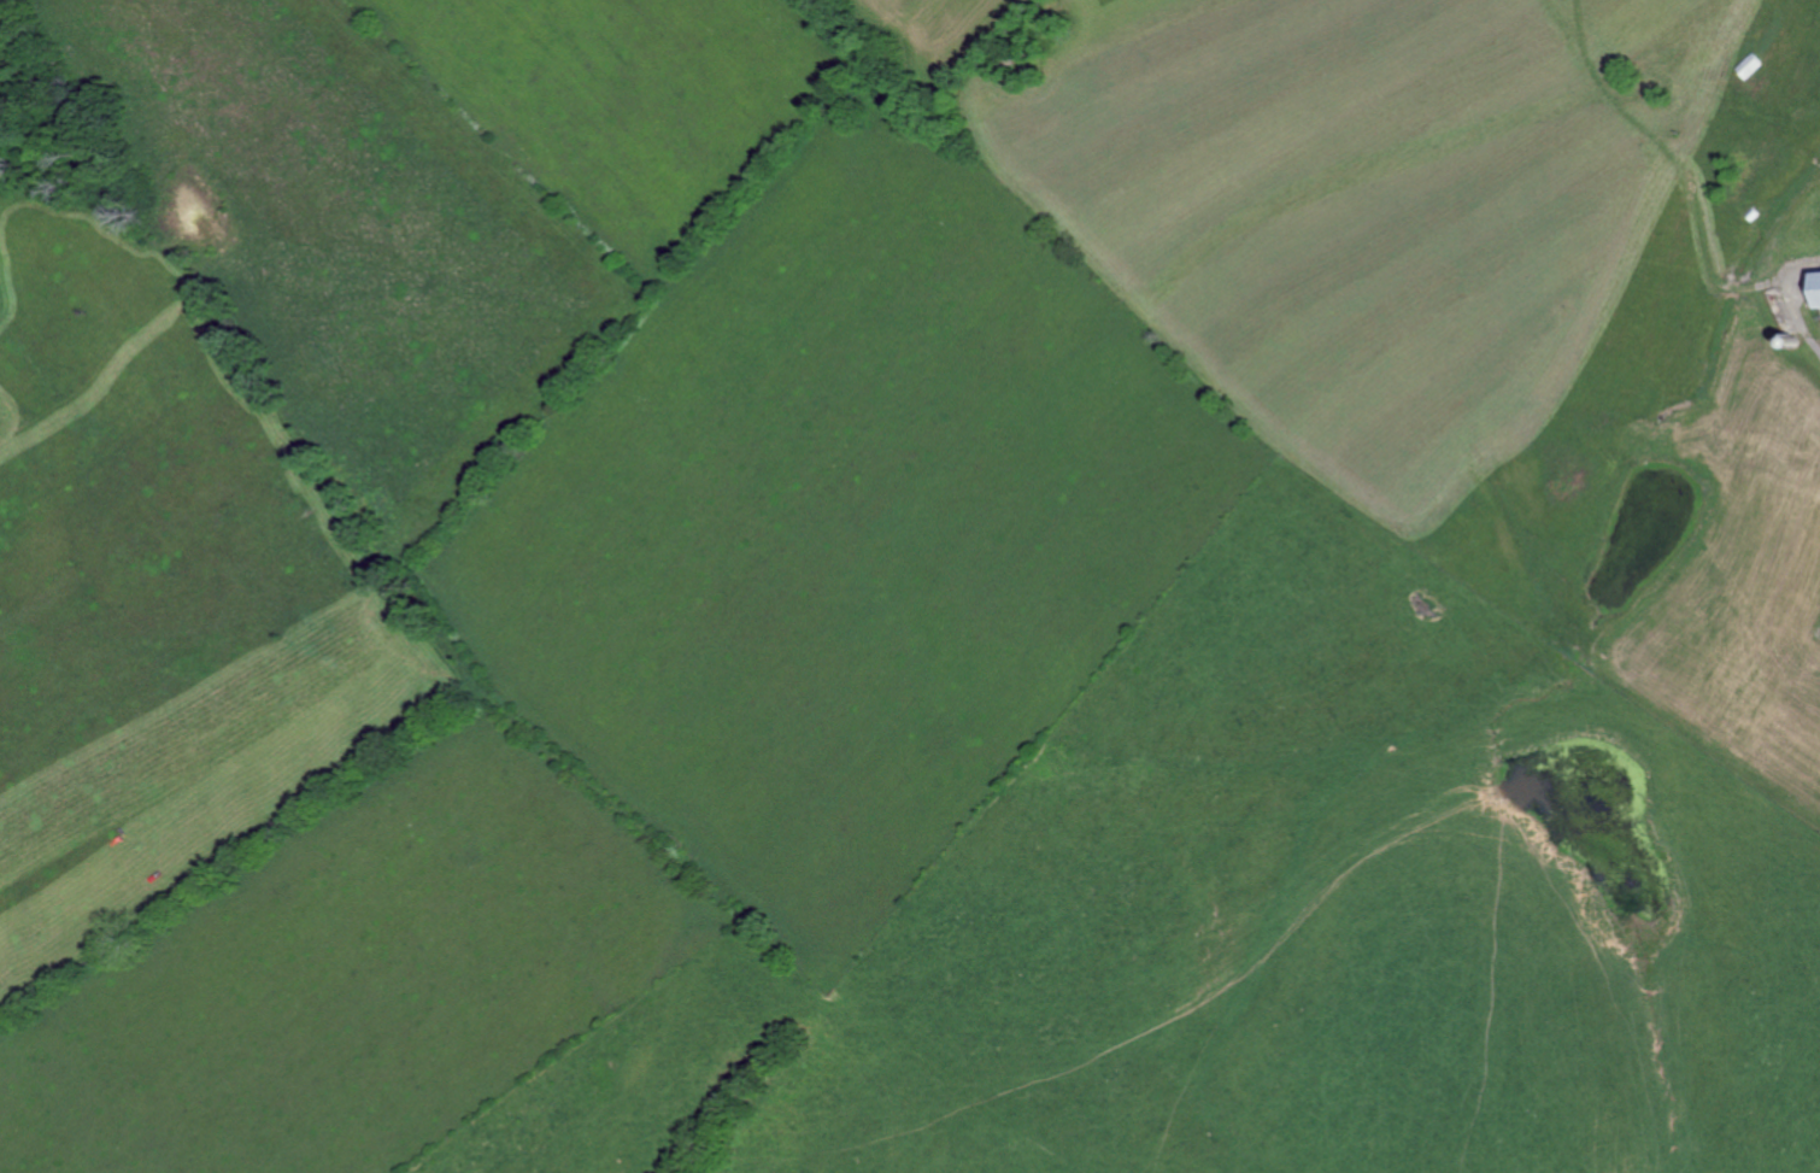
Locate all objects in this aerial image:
building: (1816, 289)

